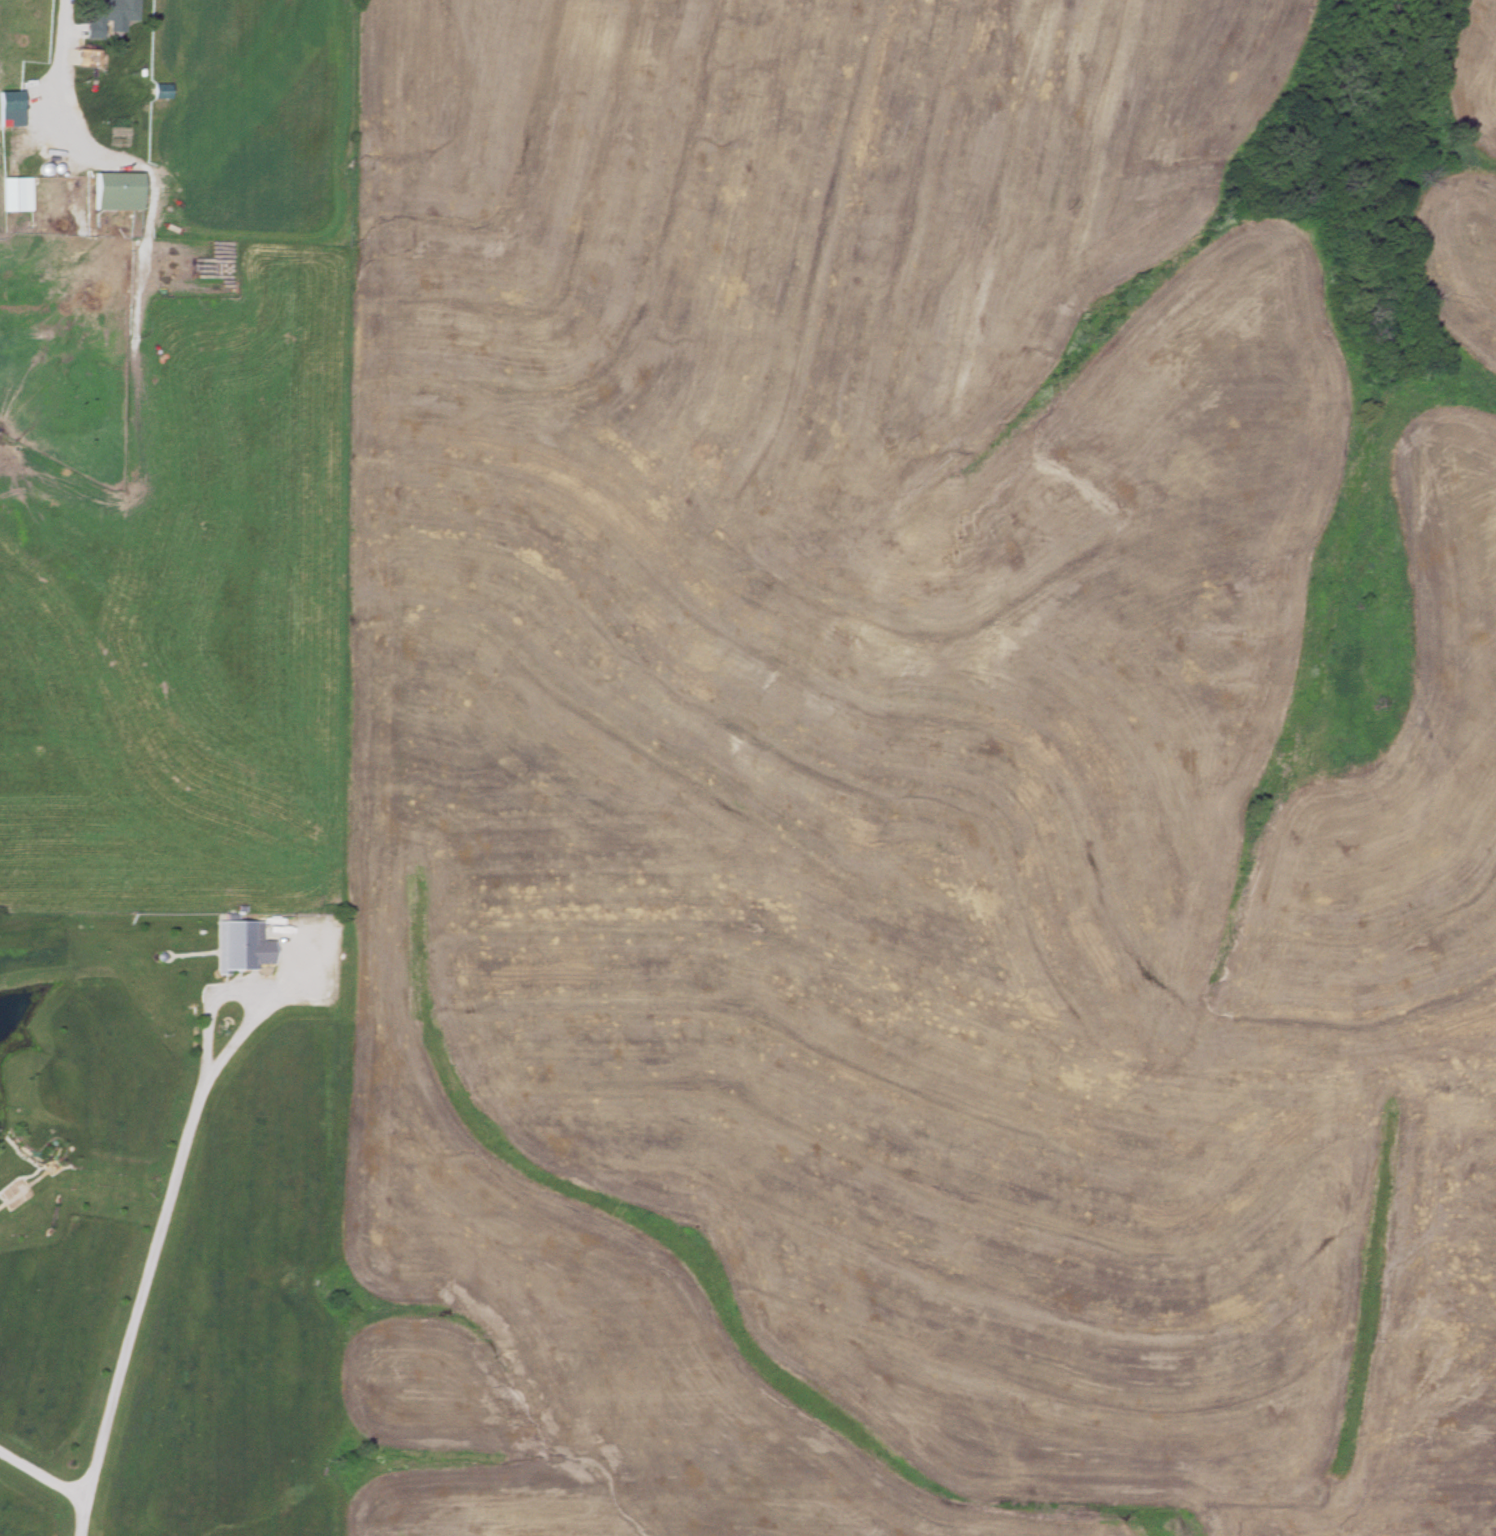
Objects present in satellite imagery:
building: (113, 10)
building: (88, 58)
road: (58, 64)
building: (162, 92)
building: (11, 109)
building: (119, 192)
building: (17, 195)
building: (235, 947)
road: (237, 988)
road: (134, 1307)
road: (40, 1476)

